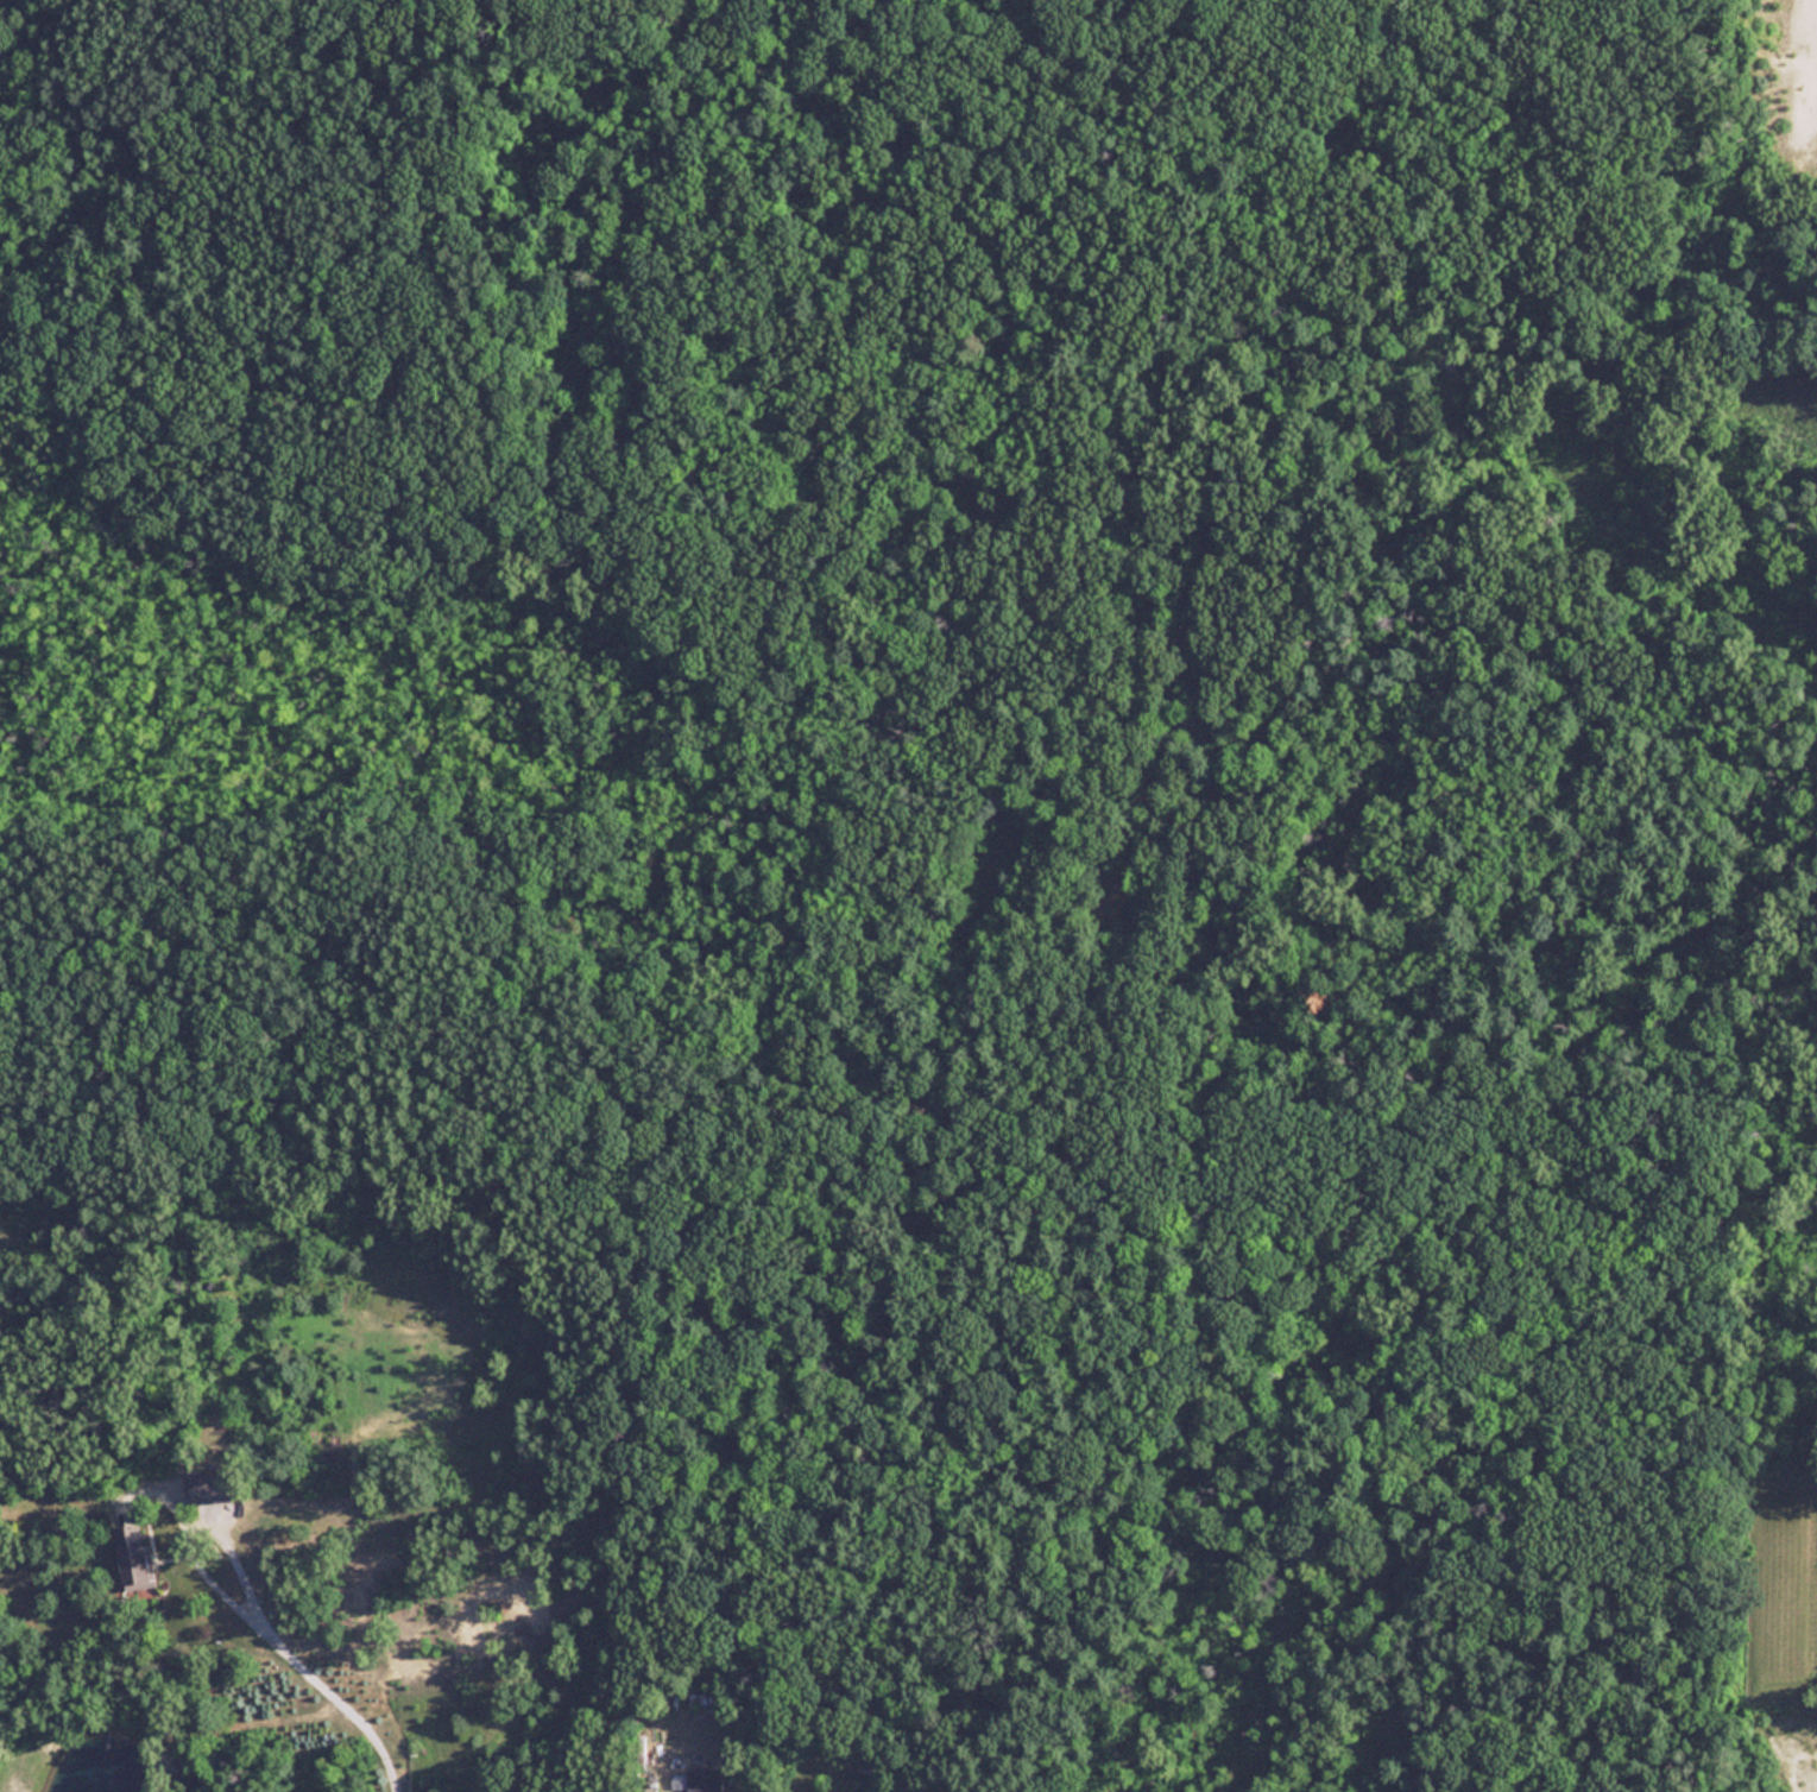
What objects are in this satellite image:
building: (209, 1488)
building: (134, 1558)
road: (310, 1678)
building: (704, 1780)

